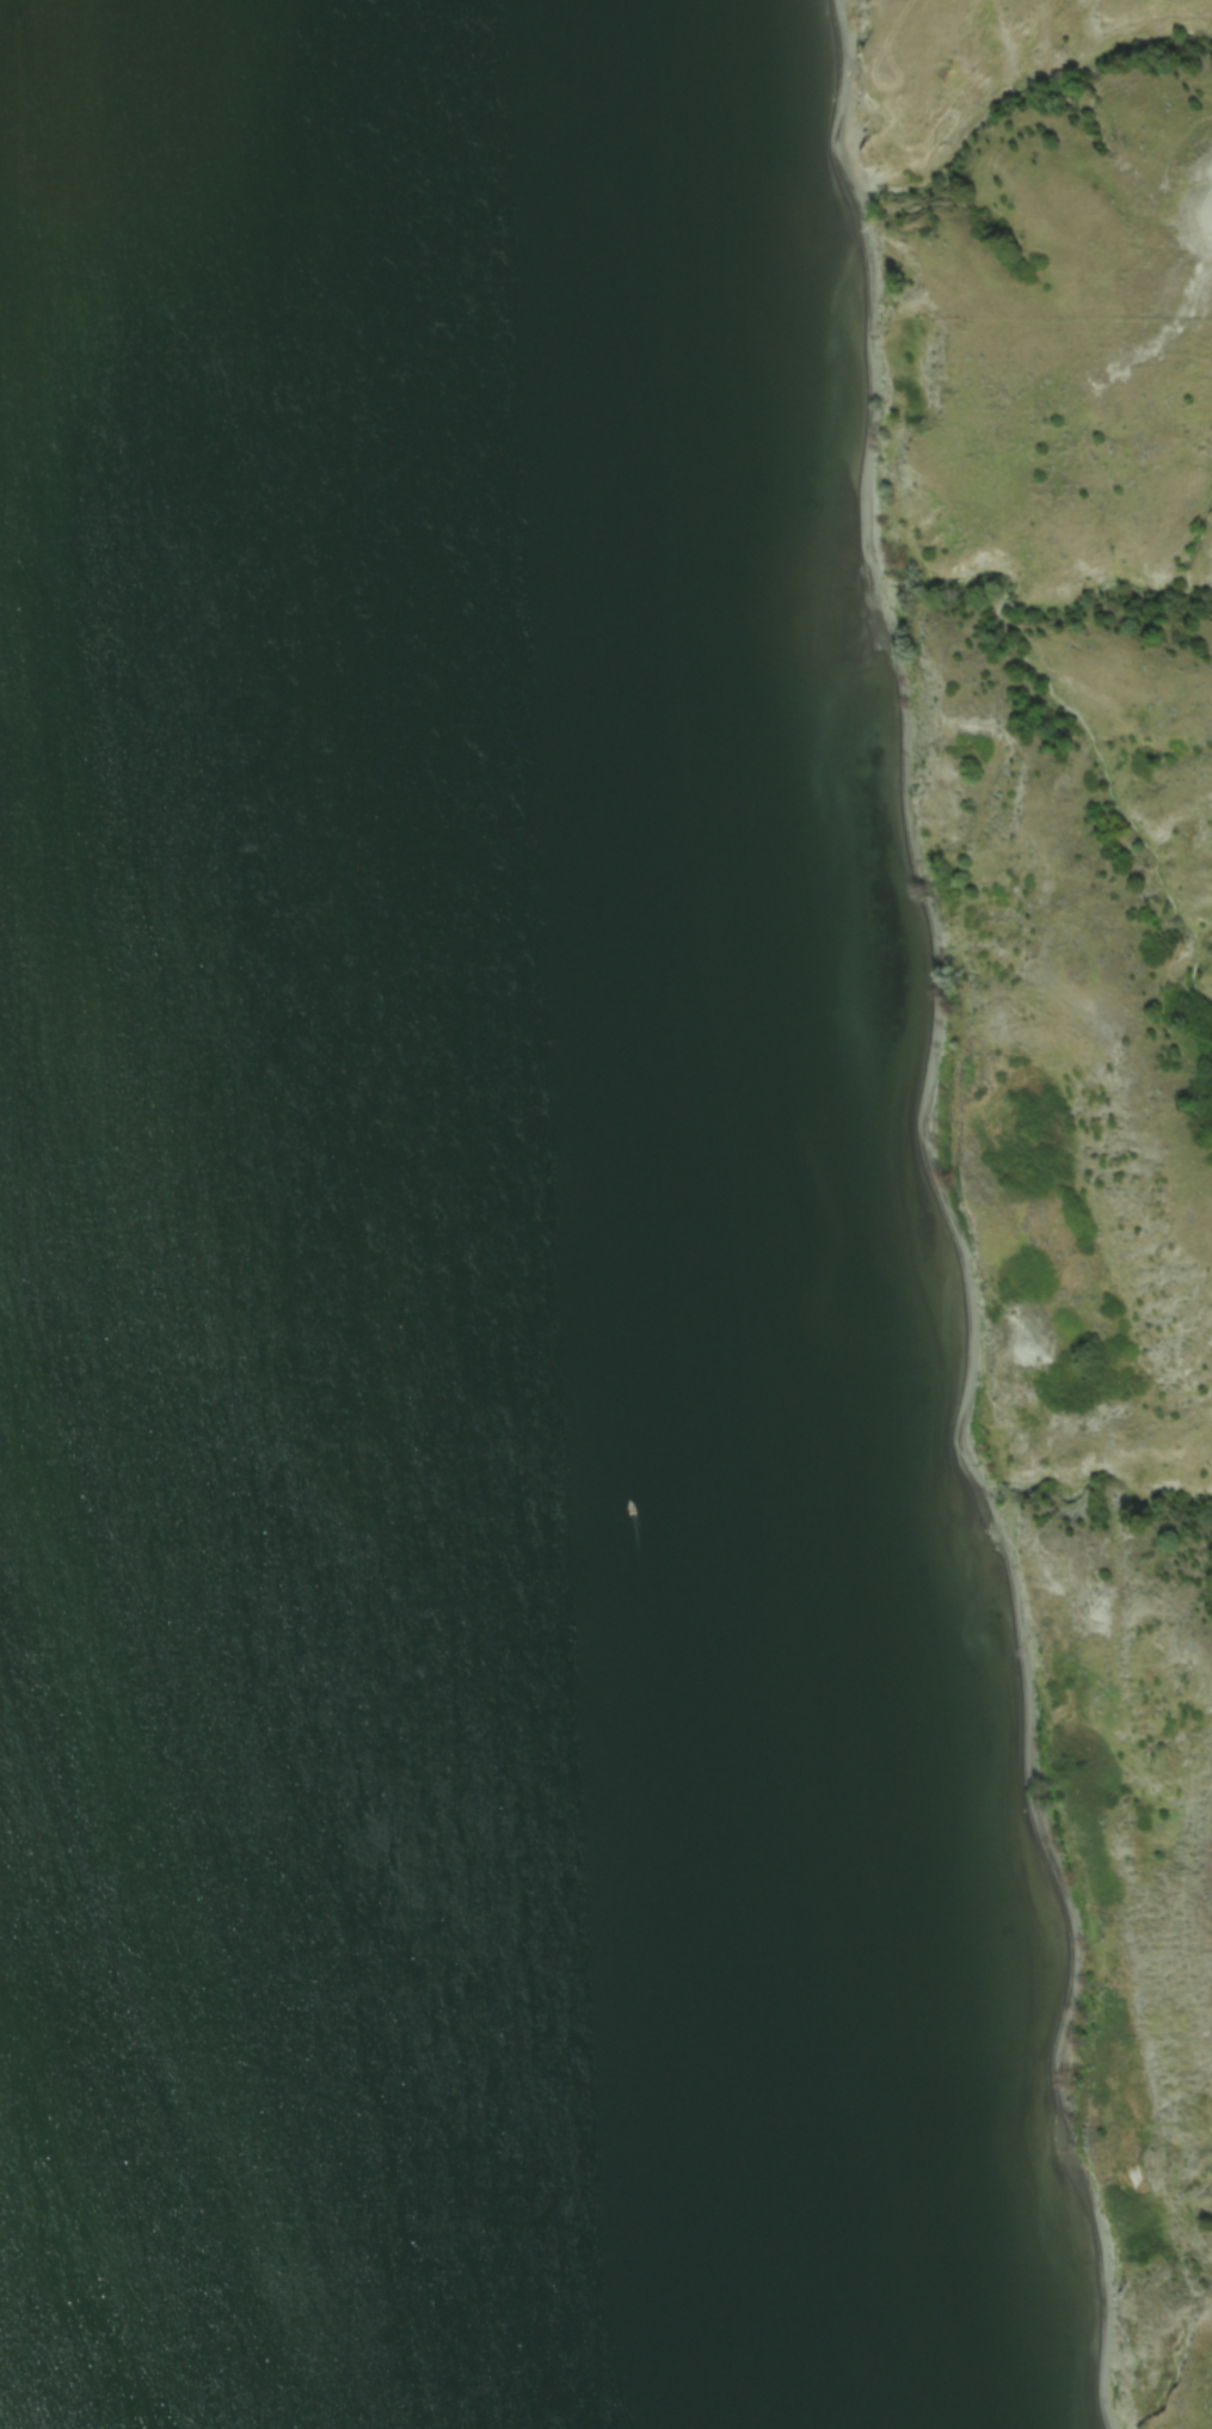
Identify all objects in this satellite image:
river: (170, 1214)

